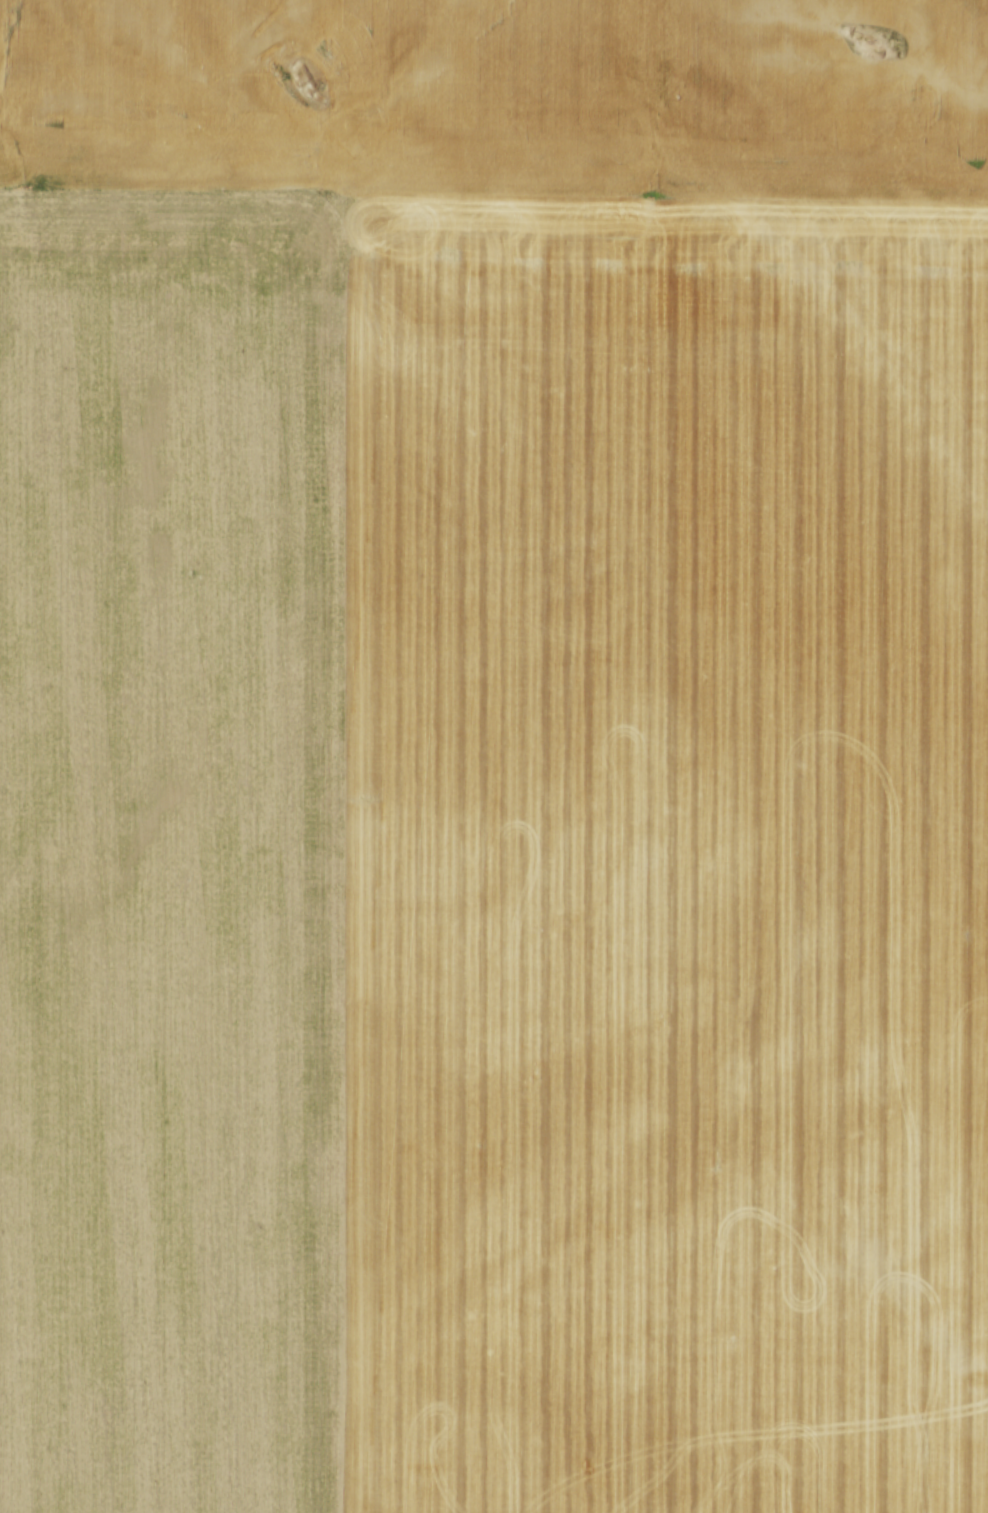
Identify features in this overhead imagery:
crop: (494, 756)

